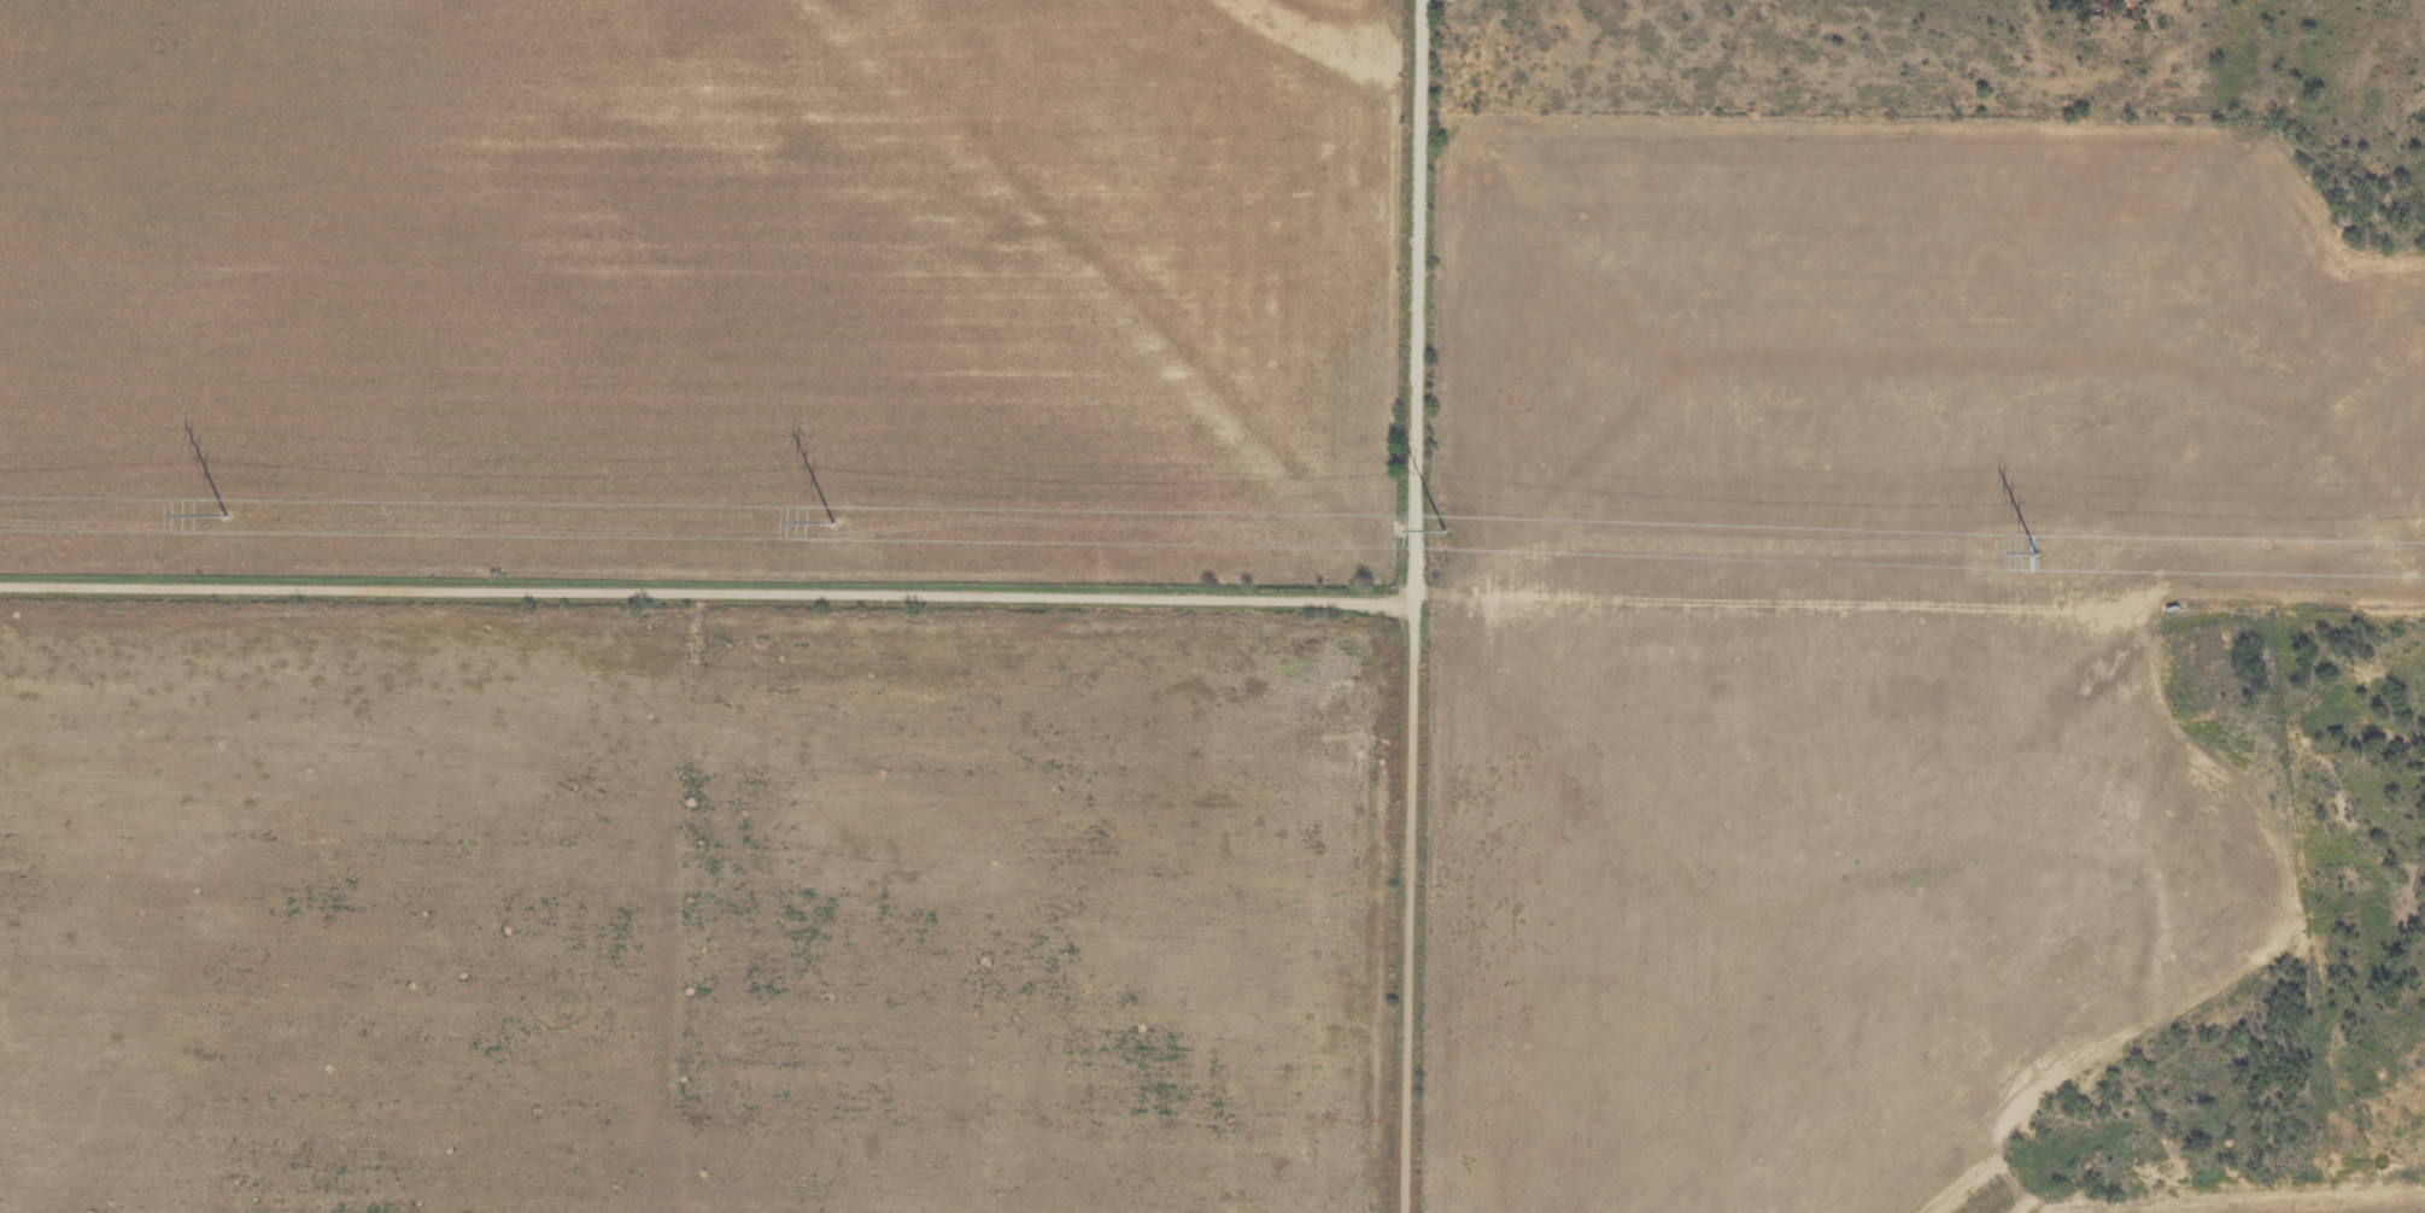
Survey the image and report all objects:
power tower: (224, 516)
power tower: (832, 522)
power tower: (1443, 528)
power tower: (2034, 552)
road: (708, 590)
road: (1417, 606)

